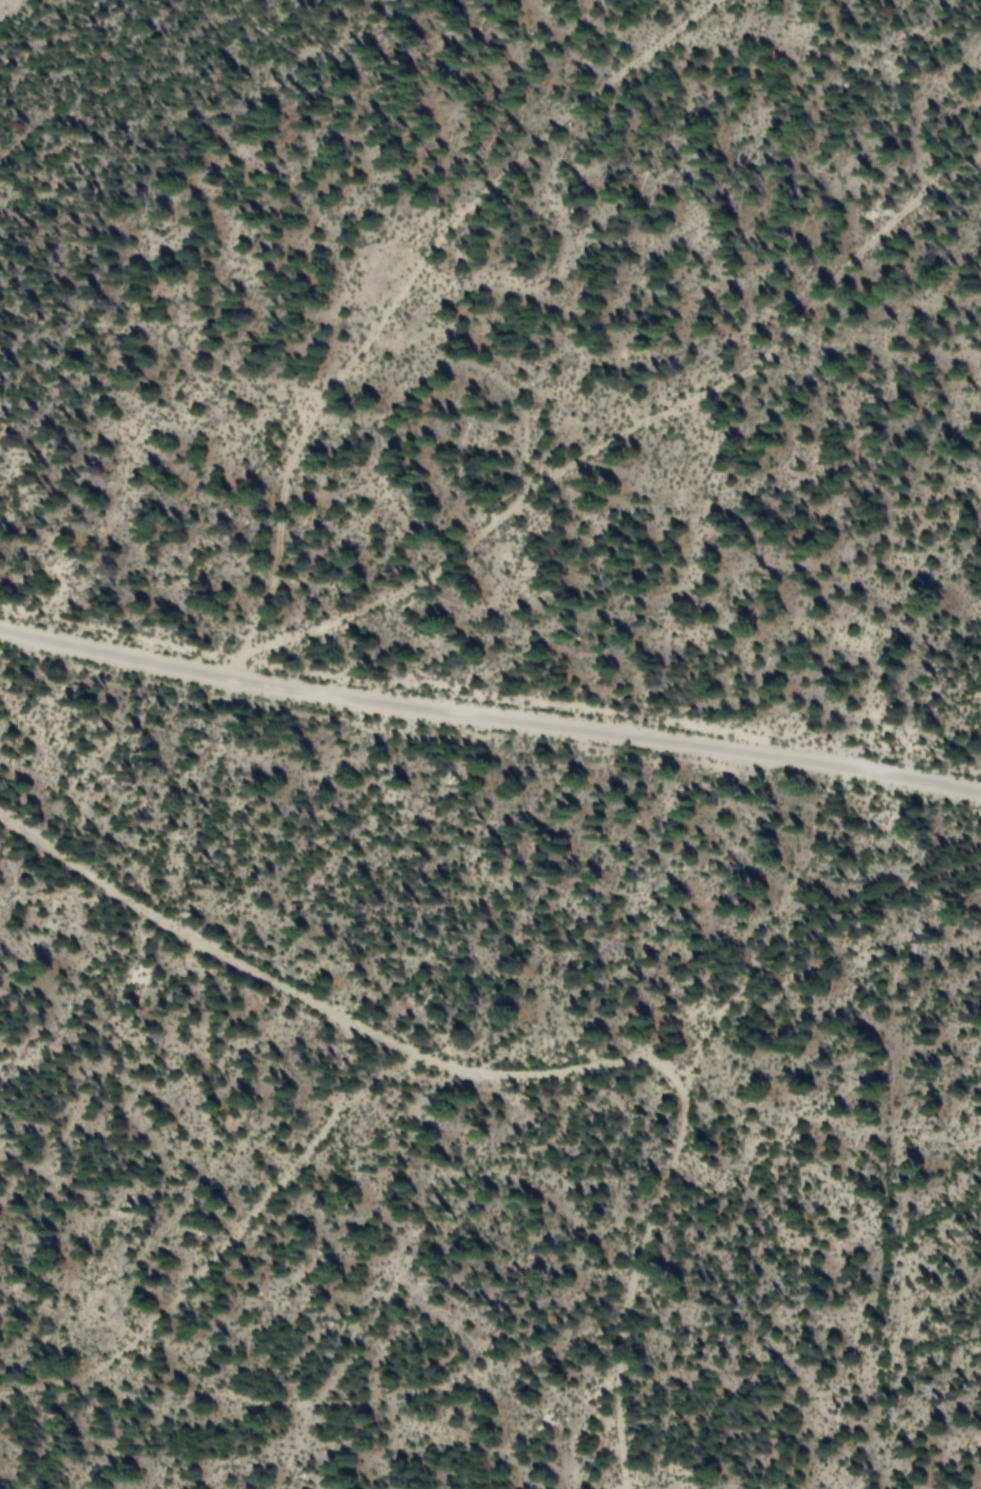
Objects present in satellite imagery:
road: (489, 718)
road: (510, 1046)

